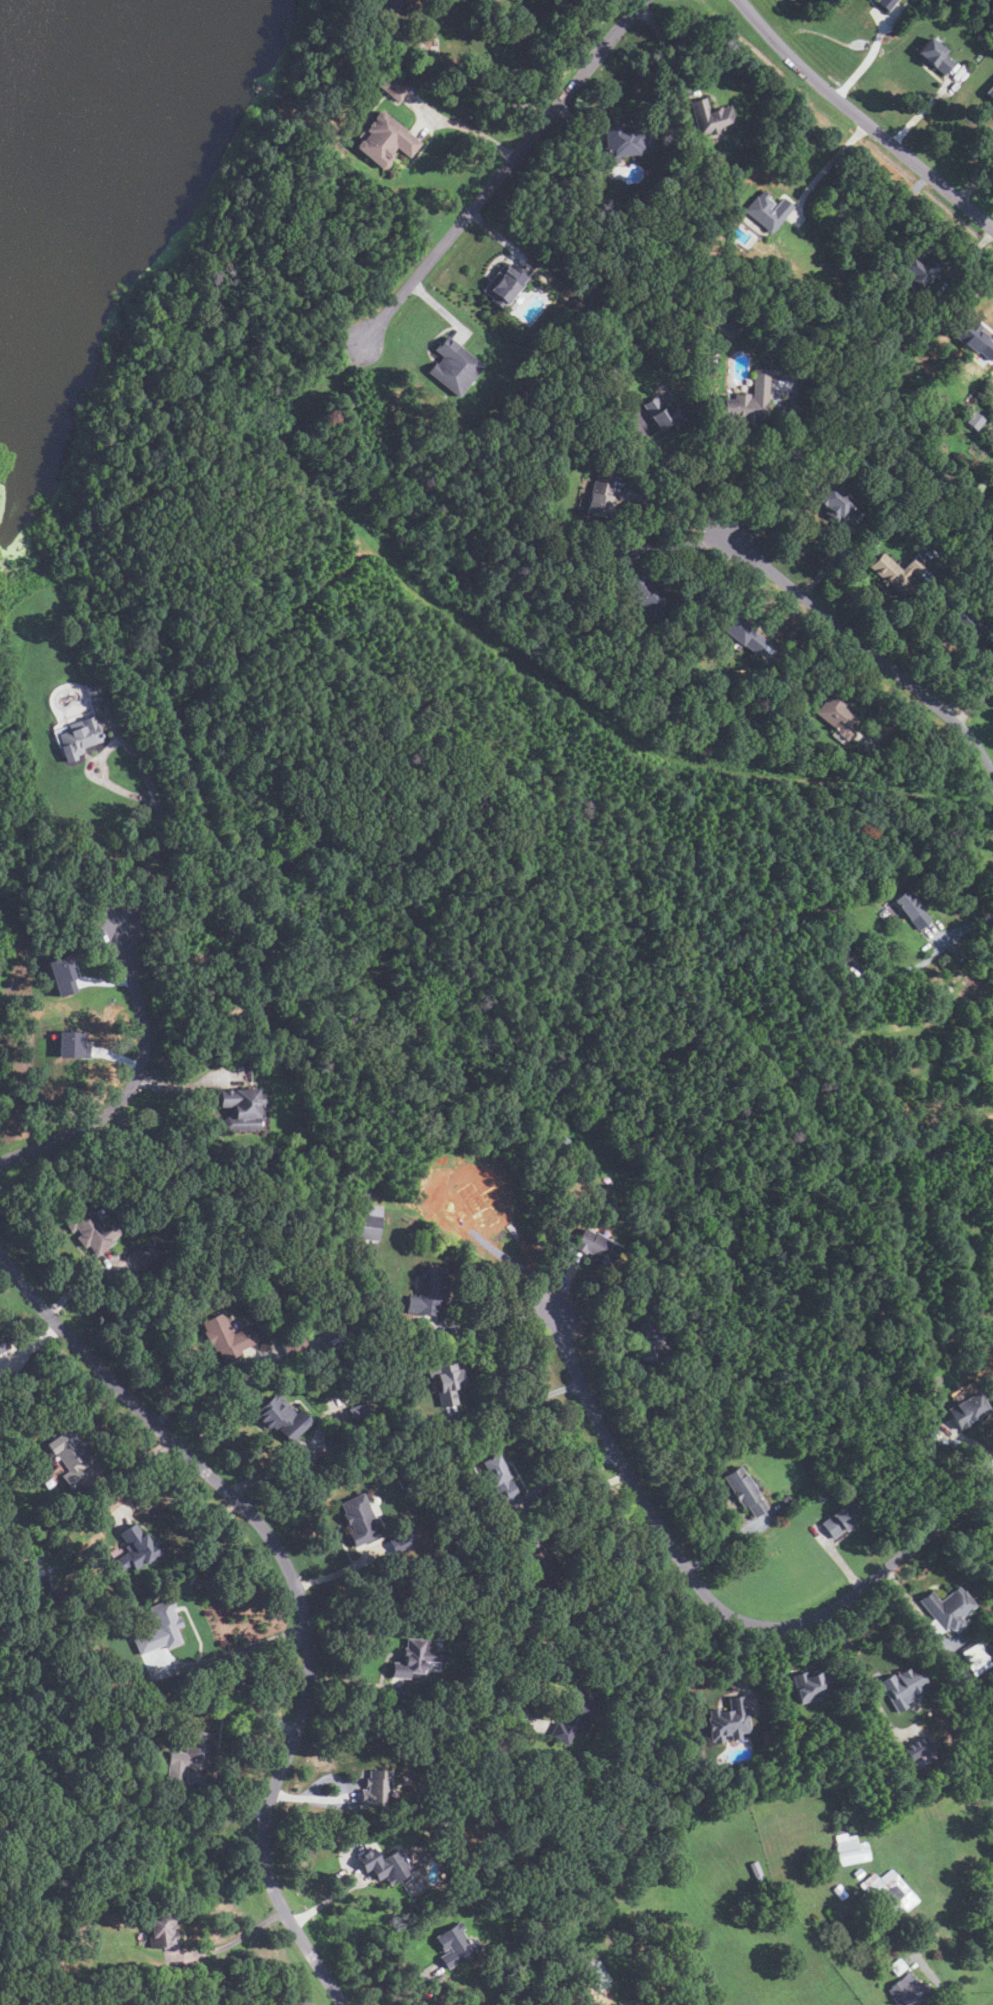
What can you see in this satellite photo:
building: (393, 3)
building: (885, 3)
road: (544, 35)
road: (672, 52)
building: (934, 55)
road: (869, 57)
road: (479, 85)
building: (394, 86)
building: (990, 91)
road: (924, 109)
building: (709, 117)
road: (859, 119)
road: (578, 122)
road: (474, 132)
building: (386, 140)
building: (624, 142)
road: (826, 165)
road: (502, 171)
road: (976, 180)
building: (766, 211)
road: (495, 235)
building: (747, 239)
road: (968, 256)
building: (917, 269)
building: (504, 285)
road: (442, 309)
building: (704, 314)
building: (661, 340)
building: (973, 340)
building: (453, 367)
building: (748, 399)
building: (664, 413)
building: (975, 417)
building: (564, 434)
road: (767, 468)
road: (679, 483)
building: (601, 491)
building: (833, 503)
road: (683, 509)
road: (677, 544)
road: (833, 559)
building: (586, 567)
building: (897, 571)
building: (644, 594)
road: (905, 616)
building: (963, 621)
building: (739, 632)
road: (798, 636)
road: (867, 648)
road: (968, 673)
building: (91, 688)
road: (976, 705)
building: (836, 716)
road: (895, 724)
building: (79, 737)
road: (152, 793)
building: (911, 909)
road: (965, 927)
building: (846, 950)
building: (61, 973)
road: (105, 981)
building: (72, 1044)
building: (991, 1044)
road: (118, 1057)
building: (268, 1057)
road: (133, 1080)
road: (188, 1084)
building: (241, 1108)
building: (929, 1155)
building: (366, 1226)
building: (91, 1228)
building: (596, 1248)
building: (147, 1251)
road: (565, 1279)
road: (80, 1289)
building: (427, 1291)
road: (493, 1323)
building: (226, 1336)
building: (647, 1342)
building: (3, 1344)
building: (293, 1344)
road: (29, 1346)
building: (447, 1381)
road: (112, 1382)
road: (209, 1390)
road: (519, 1402)
building: (968, 1408)
building: (282, 1417)
road: (640, 1424)
road: (969, 1439)
building: (69, 1454)
road: (134, 1458)
road: (276, 1468)
road: (569, 1471)
building: (499, 1478)
road: (992, 1480)
building: (404, 1481)
building: (744, 1489)
road: (175, 1493)
building: (822, 1496)
road: (580, 1499)
building: (359, 1520)
building: (840, 1520)
building: (18, 1537)
road: (727, 1537)
building: (136, 1546)
road: (836, 1556)
building: (33, 1564)
building: (547, 1570)
road: (336, 1571)
building: (484, 1576)
road: (713, 1596)
road: (904, 1598)
building: (948, 1608)
road: (584, 1627)
building: (159, 1628)
road: (241, 1648)
road: (848, 1652)
road: (781, 1657)
building: (410, 1658)
building: (977, 1658)
building: (103, 1661)
road: (731, 1666)
building: (462, 1674)
building: (811, 1684)
road: (355, 1685)
building: (902, 1687)
building: (573, 1717)
building: (728, 1721)
building: (924, 1748)
road: (286, 1753)
building: (189, 1756)
building: (377, 1788)
road: (308, 1798)
road: (226, 1800)
building: (851, 1848)
building: (390, 1867)
building: (858, 1872)
building: (888, 1891)
building: (839, 1892)
road: (330, 1896)
building: (163, 1931)
road: (232, 1943)
building: (453, 1944)
building: (897, 1967)
building: (595, 1975)
road: (936, 1981)
road: (410, 1987)
building: (908, 1991)

